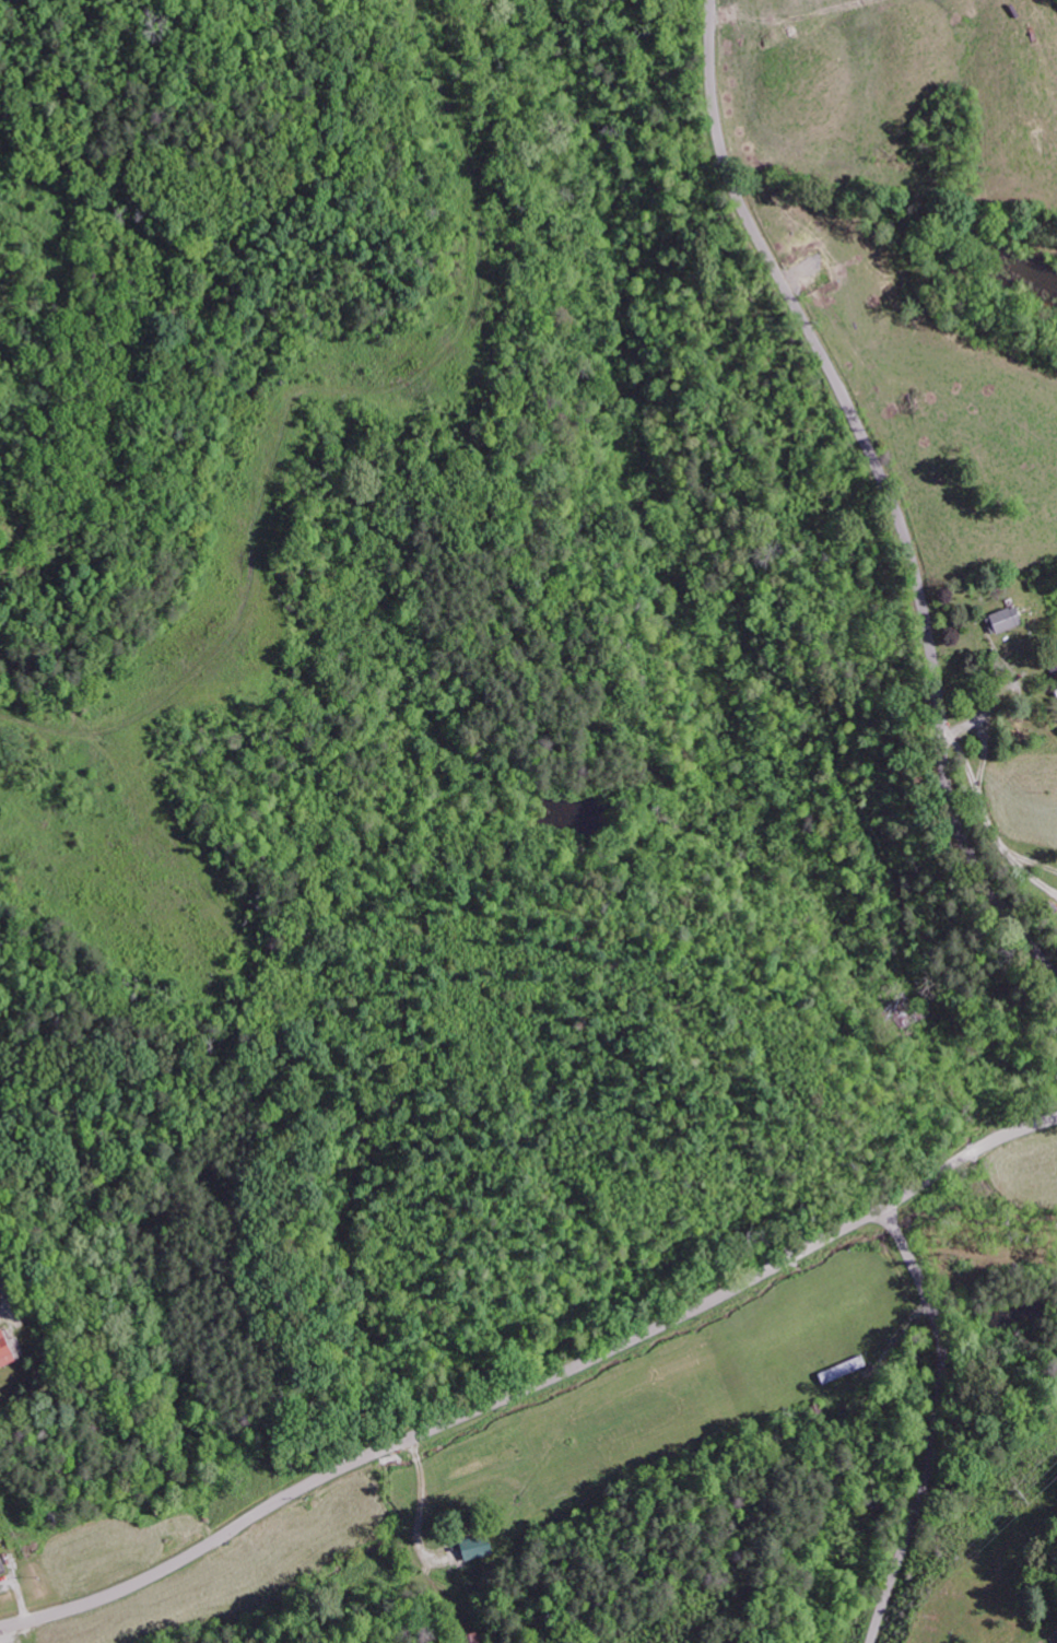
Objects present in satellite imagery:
road: (886, 485)
building: (1001, 619)
building: (3, 1352)
road: (533, 1385)
road: (936, 1422)
power tower: (1026, 1490)
building: (473, 1547)
building: (1, 1566)

